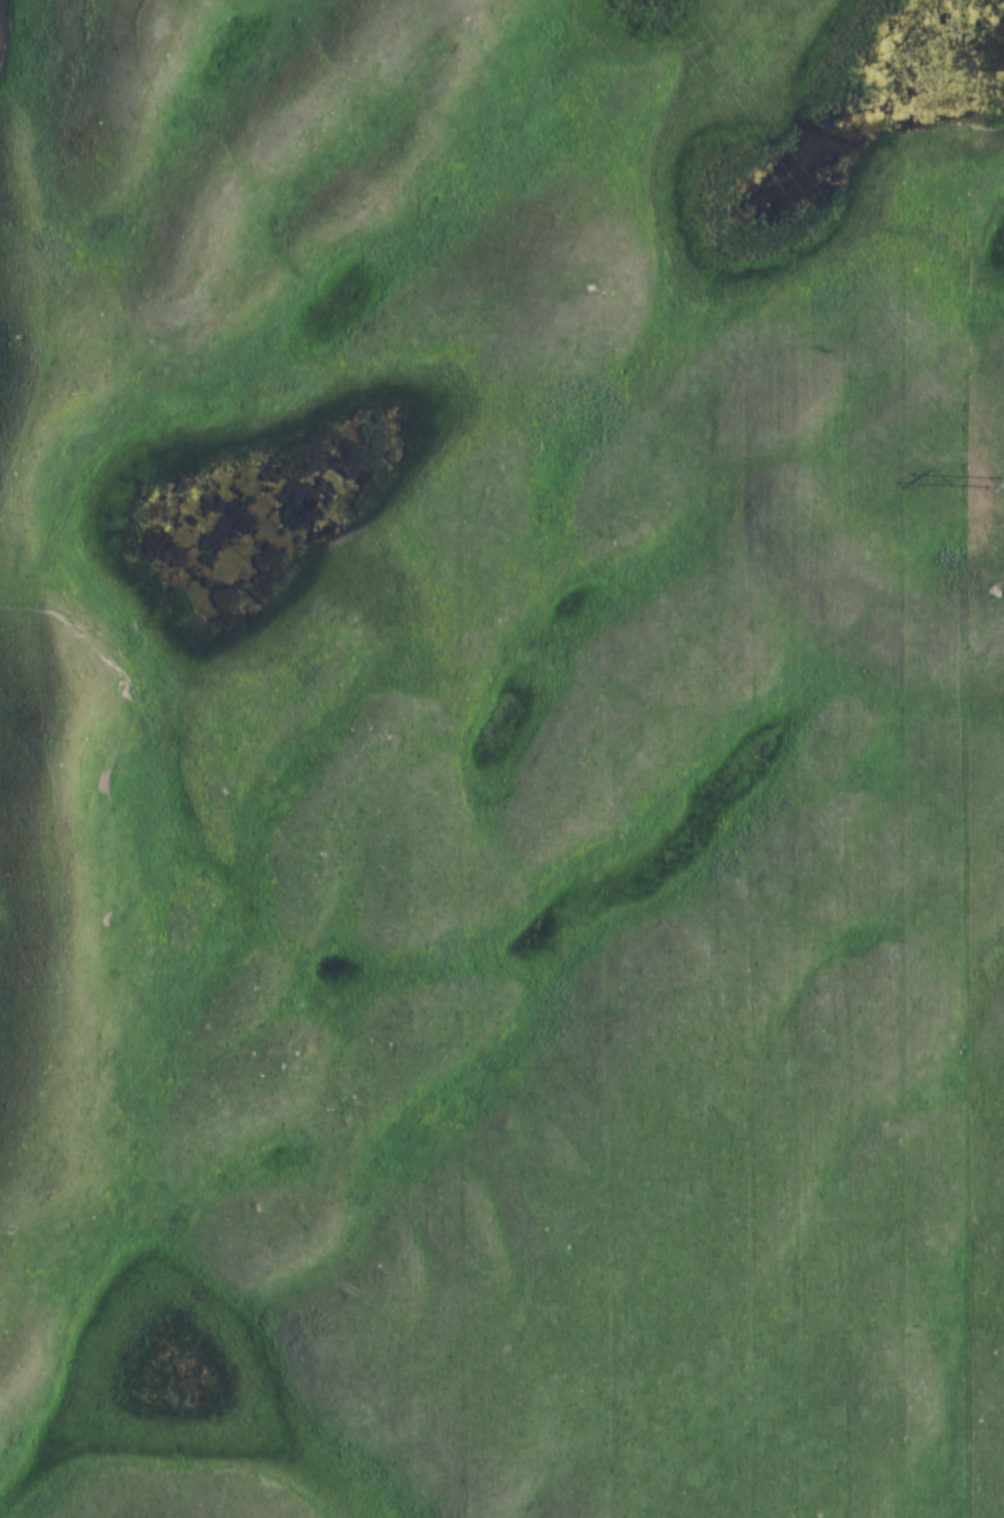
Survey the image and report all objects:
power tower: (994, 481)

